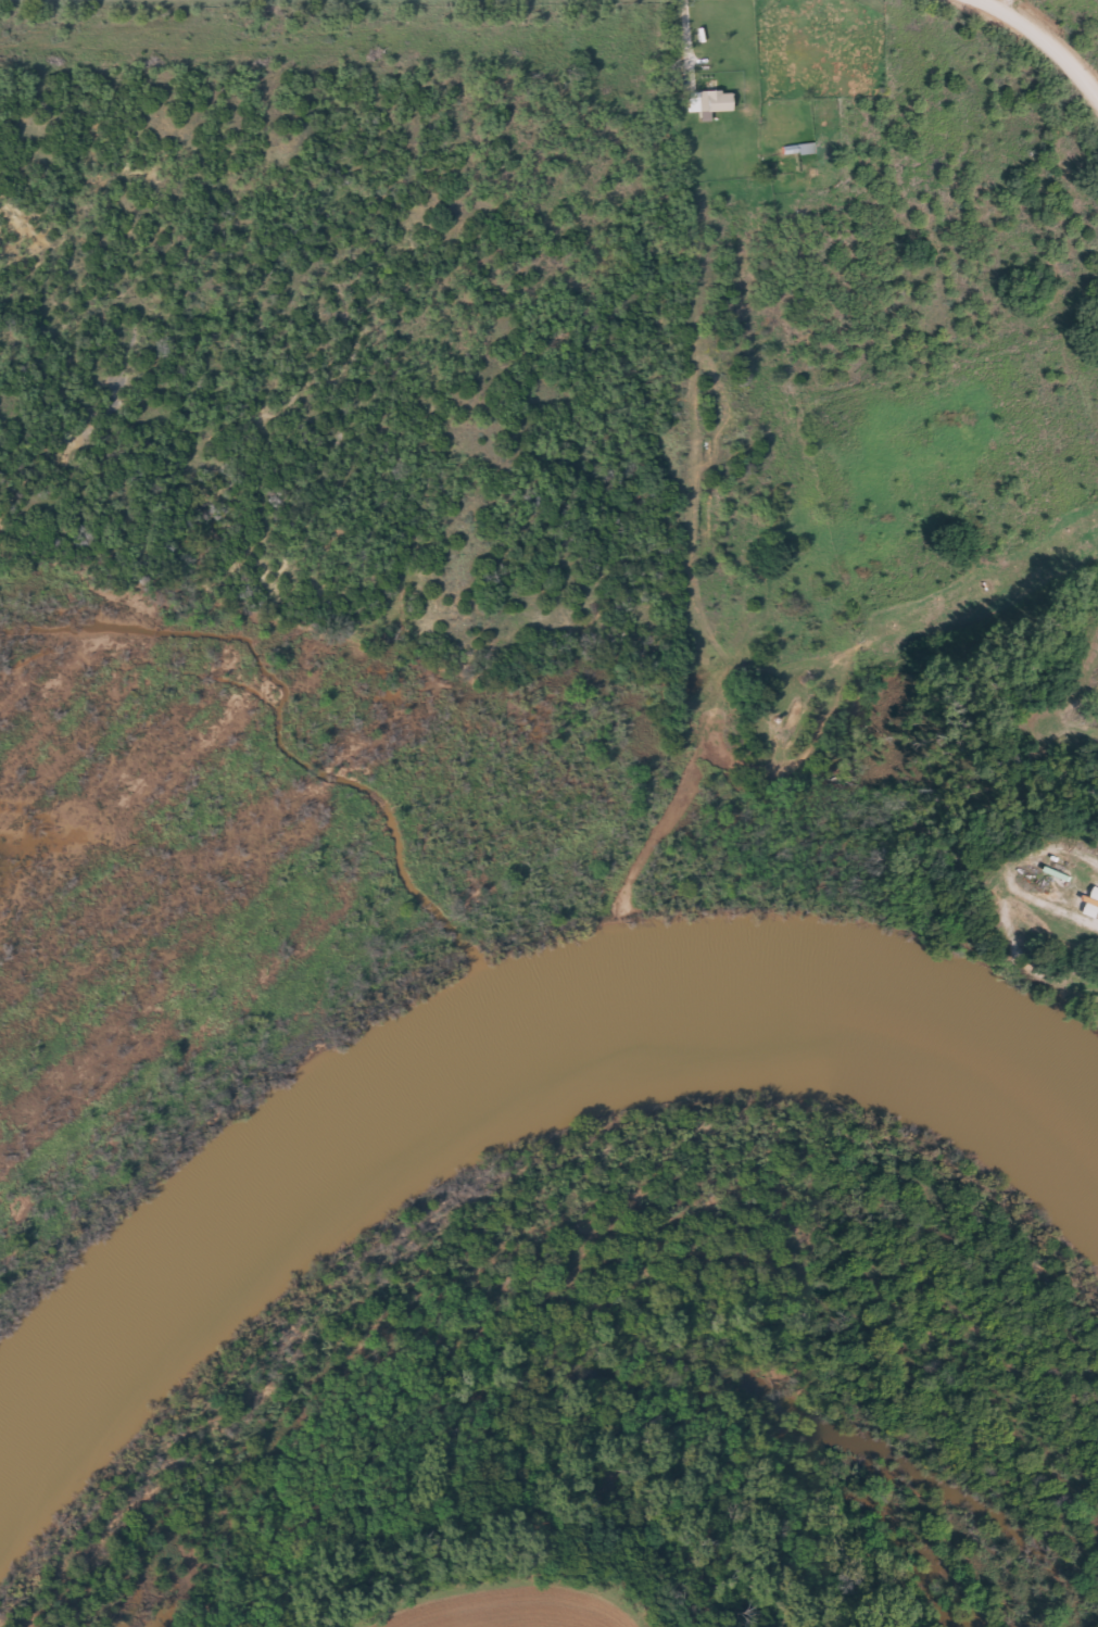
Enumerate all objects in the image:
road: (1009, 8)
road: (1046, 39)
building: (706, 102)
building: (797, 149)
river: (494, 1047)

